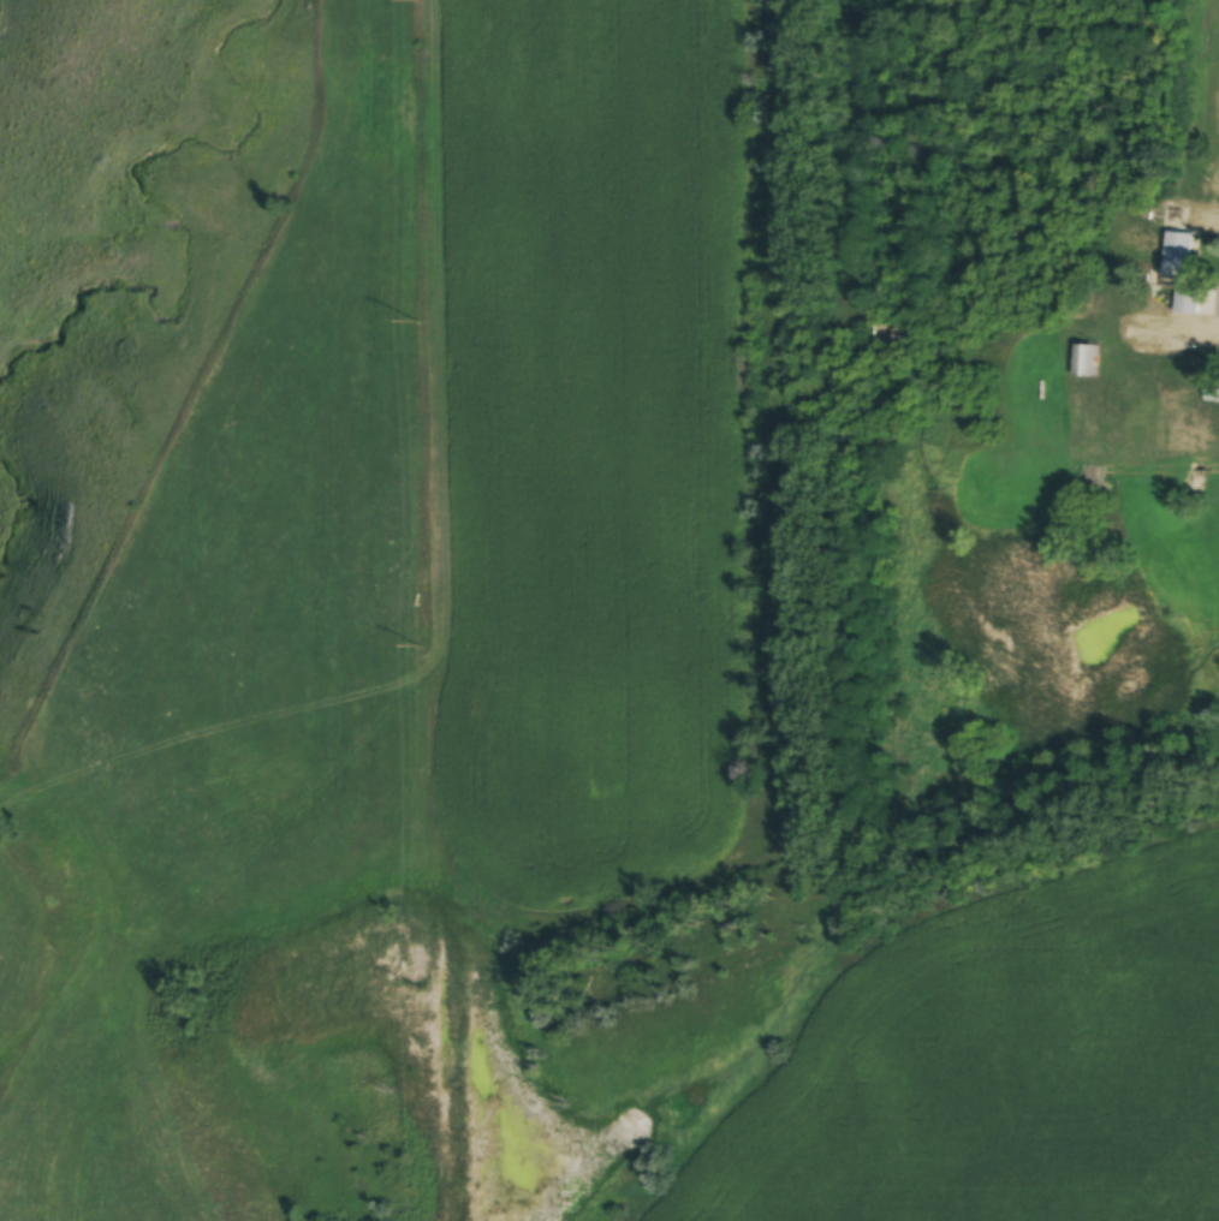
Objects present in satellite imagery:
building: (1177, 256)
building: (888, 349)
building: (1084, 362)

